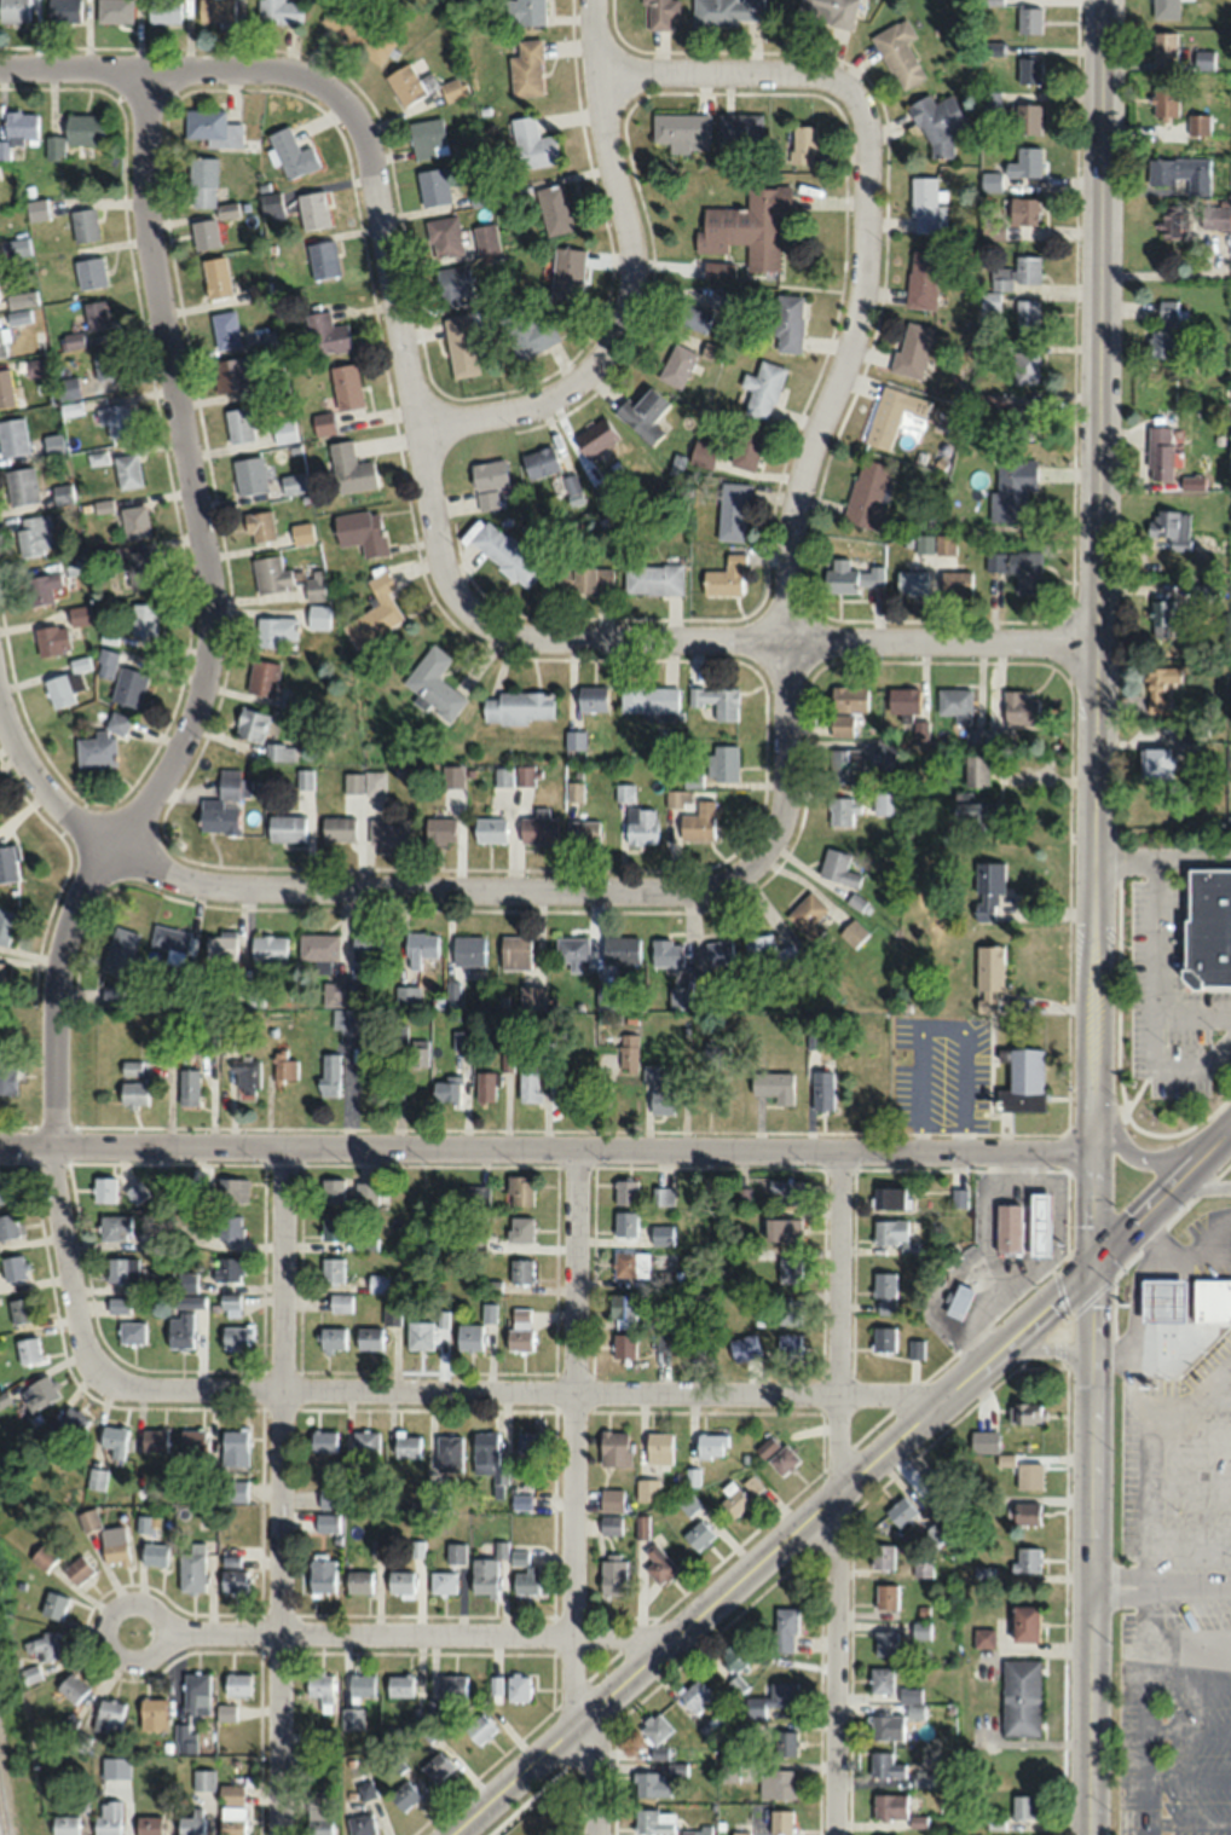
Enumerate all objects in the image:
building: (1164, 8)
building: (13, 10)
building: (112, 10)
building: (63, 11)
building: (163, 11)
building: (214, 11)
building: (278, 11)
building: (524, 12)
building: (727, 12)
building: (658, 13)
building: (827, 13)
building: (1028, 19)
building: (354, 29)
building: (1163, 46)
building: (898, 52)
building: (526, 69)
building: (1029, 70)
road: (161, 80)
road: (745, 82)
building: (420, 85)
building: (1164, 100)
building: (1027, 118)
building: (937, 122)
building: (1198, 125)
building: (17, 128)
building: (212, 128)
building: (739, 129)
building: (680, 131)
building: (74, 133)
building: (427, 137)
building: (531, 143)
building: (803, 144)
building: (291, 154)
building: (1024, 162)
building: (1180, 173)
building: (433, 185)
building: (206, 186)
building: (271, 202)
building: (926, 206)
building: (36, 209)
building: (312, 209)
building: (554, 209)
building: (1023, 210)
building: (1214, 216)
building: (1169, 220)
building: (83, 224)
building: (747, 226)
building: (204, 233)
building: (443, 236)
building: (485, 238)
building: (19, 247)
building: (323, 257)
building: (89, 272)
building: (1016, 272)
building: (567, 273)
building: (216, 276)
road: (628, 279)
building: (921, 279)
building: (452, 284)
building: (261, 290)
building: (718, 296)
building: (21, 305)
building: (97, 314)
building: (695, 316)
building: (1027, 317)
building: (787, 322)
building: (225, 329)
building: (1163, 330)
building: (325, 334)
building: (531, 336)
building: (73, 340)
road: (403, 342)
building: (2, 345)
building: (461, 346)
building: (913, 349)
building: (106, 364)
building: (677, 364)
building: (36, 366)
building: (1025, 366)
building: (233, 372)
building: (346, 386)
building: (68, 388)
building: (762, 388)
building: (6, 389)
building: (643, 415)
building: (1027, 416)
building: (896, 418)
building: (117, 421)
building: (323, 423)
building: (239, 424)
building: (283, 432)
building: (12, 438)
building: (595, 438)
building: (746, 446)
building: (1160, 452)
building: (703, 453)
building: (97, 458)
building: (541, 463)
building: (349, 469)
building: (127, 470)
building: (489, 474)
building: (264, 479)
building: (22, 486)
building: (1012, 488)
building: (63, 493)
building: (867, 493)
building: (487, 500)
building: (733, 510)
road: (796, 511)
building: (135, 521)
building: (260, 527)
building: (1172, 527)
building: (362, 532)
building: (302, 533)
building: (34, 534)
building: (944, 544)
road: (1097, 552)
building: (505, 554)
building: (75, 565)
building: (139, 568)
building: (1018, 568)
building: (270, 574)
building: (726, 577)
building: (849, 577)
building: (584, 578)
building: (652, 578)
building: (912, 583)
building: (317, 584)
building: (955, 584)
building: (41, 587)
building: (1204, 591)
building: (376, 610)
building: (80, 615)
building: (1161, 615)
building: (317, 617)
building: (144, 619)
building: (274, 630)
road: (769, 636)
building: (51, 639)
building: (79, 664)
building: (106, 664)
building: (262, 677)
building: (433, 683)
building: (128, 688)
building: (1160, 688)
building: (58, 691)
building: (591, 697)
building: (648, 699)
building: (848, 699)
building: (903, 700)
building: (715, 702)
building: (955, 702)
building: (293, 704)
building: (519, 707)
building: (1019, 708)
building: (250, 725)
building: (842, 725)
building: (989, 737)
building: (574, 740)
road: (184, 741)
building: (1187, 741)
building: (100, 745)
building: (278, 753)
building: (884, 756)
building: (722, 763)
building: (845, 764)
building: (1158, 764)
building: (978, 769)
building: (513, 776)
building: (452, 777)
building: (352, 783)
building: (374, 783)
road: (47, 788)
building: (224, 804)
building: (843, 810)
building: (977, 814)
building: (699, 822)
building: (285, 828)
building: (337, 828)
building: (641, 828)
building: (438, 829)
building: (538, 829)
building: (489, 830)
building: (387, 832)
building: (584, 833)
road: (1163, 857)
building: (7, 864)
building: (838, 868)
building: (988, 890)
road: (416, 895)
building: (808, 916)
building: (5, 925)
building: (1207, 928)
building: (169, 938)
building: (318, 945)
building: (365, 945)
building: (220, 948)
building: (268, 948)
building: (420, 948)
building: (620, 949)
building: (468, 950)
building: (121, 951)
building: (718, 951)
building: (514, 953)
building: (572, 953)
building: (666, 953)
building: (769, 954)
road: (1158, 971)
building: (989, 979)
building: (1, 980)
building: (331, 992)
building: (405, 996)
building: (531, 997)
building: (680, 997)
building: (605, 998)
building: (346, 1025)
building: (460, 1040)
building: (545, 1050)
building: (628, 1052)
building: (418, 1054)
building: (713, 1057)
building: (505, 1061)
building: (131, 1066)
building: (285, 1070)
building: (7, 1071)
building: (245, 1072)
building: (329, 1075)
building: (1025, 1079)
building: (527, 1086)
building: (187, 1087)
building: (485, 1087)
building: (771, 1087)
building: (445, 1090)
building: (821, 1090)
building: (133, 1093)
building: (658, 1093)
road: (544, 1147)
road: (1198, 1157)
road: (1151, 1158)
road: (1091, 1183)
building: (5, 1188)
building: (519, 1188)
road: (1198, 1188)
building: (103, 1189)
building: (232, 1189)
building: (331, 1191)
building: (624, 1191)
building: (788, 1191)
building: (365, 1192)
building: (135, 1193)
building: (202, 1193)
building: (661, 1194)
building: (475, 1196)
building: (889, 1196)
building: (958, 1197)
building: (624, 1222)
building: (1039, 1222)
building: (7, 1225)
building: (229, 1226)
building: (331, 1226)
building: (1007, 1226)
building: (114, 1227)
road: (1128, 1227)
building: (519, 1228)
building: (782, 1229)
building: (661, 1234)
building: (892, 1234)
building: (473, 1239)
building: (368, 1243)
road: (1200, 1248)
building: (762, 1254)
building: (12, 1266)
building: (632, 1266)
building: (226, 1268)
building: (331, 1268)
building: (121, 1269)
building: (521, 1269)
building: (788, 1269)
building: (185, 1281)
building: (377, 1283)
building: (884, 1292)
building: (1161, 1298)
building: (1212, 1298)
building: (958, 1299)
building: (340, 1302)
building: (117, 1304)
building: (229, 1304)
building: (18, 1309)
building: (487, 1310)
building: (623, 1310)
building: (788, 1310)
road: (1038, 1312)
building: (391, 1313)
road: (1091, 1318)
building: (519, 1327)
building: (179, 1330)
building: (131, 1331)
building: (418, 1333)
building: (468, 1336)
building: (369, 1337)
building: (883, 1337)
building: (236, 1338)
building: (331, 1338)
building: (663, 1338)
building: (623, 1344)
building: (788, 1344)
building: (742, 1347)
building: (914, 1347)
building: (27, 1349)
road: (1041, 1349)
road: (1112, 1353)
road: (513, 1390)
road: (1218, 1391)
building: (39, 1393)
road: (1195, 1397)
building: (1023, 1412)
building: (70, 1424)
road: (1154, 1432)
road: (571, 1434)
building: (114, 1439)
building: (152, 1439)
building: (191, 1440)
building: (323, 1440)
building: (365, 1440)
building: (983, 1440)
road: (1192, 1441)
building: (528, 1442)
building: (711, 1443)
building: (406, 1446)
building: (659, 1446)
building: (614, 1447)
building: (233, 1448)
building: (449, 1452)
building: (775, 1453)
building: (1005, 1459)
building: (489, 1460)
building: (1029, 1474)
building: (692, 1475)
building: (96, 1477)
road: (1090, 1480)
building: (752, 1483)
road: (1191, 1487)
building: (648, 1488)
building: (232, 1489)
road: (279, 1489)
road: (838, 1490)
building: (329, 1497)
building: (611, 1498)
building: (733, 1500)
building: (688, 1503)
building: (940, 1509)
building: (901, 1511)
building: (1025, 1511)
building: (88, 1518)
building: (326, 1521)
building: (609, 1523)
building: (698, 1533)
road: (1191, 1534)
building: (114, 1544)
building: (154, 1552)
building: (42, 1555)
building: (882, 1555)
building: (1027, 1558)
building: (658, 1563)
building: (191, 1564)
building: (921, 1567)
building: (77, 1568)
building: (320, 1573)
building: (525, 1574)
building: (484, 1575)
building: (613, 1575)
building: (233, 1578)
building: (358, 1580)
building: (400, 1581)
building: (443, 1581)
road: (1160, 1586)
building: (885, 1596)
road: (717, 1597)
parking lot: (1177, 1598)
road: (140, 1602)
building: (53, 1604)
power tower: (13, 1616)
building: (1024, 1622)
building: (784, 1629)
building: (920, 1629)
road: (418, 1632)
building: (983, 1637)
building: (885, 1643)
building: (45, 1645)
building: (734, 1654)
building: (30, 1674)
building: (880, 1679)
building: (236, 1684)
building: (453, 1684)
building: (399, 1685)
building: (518, 1686)
building: (71, 1688)
building: (496, 1688)
building: (320, 1689)
building: (196, 1694)
building: (694, 1695)
building: (909, 1695)
building: (1021, 1696)
building: (356, 1697)
building: (771, 1700)
road: (1149, 1706)
building: (433, 1709)
building: (914, 1710)
road: (1087, 1710)
building: (225, 1712)
building: (152, 1713)
building: (109, 1715)
building: (68, 1725)
building: (885, 1726)
building: (479, 1727)
building: (655, 1727)
building: (712, 1727)
building: (744, 1732)
building: (324, 1735)
building: (184, 1737)
building: (80, 1741)
building: (785, 1742)
power tower: (44, 1765)
building: (885, 1765)
building: (435, 1766)
building: (676, 1769)
road: (595, 1770)
building: (729, 1772)
building: (202, 1778)
building: (123, 1781)
building: (776, 1783)
building: (651, 1784)
building: (365, 1789)
building: (404, 1795)
building: (79, 1802)
building: (889, 1805)
building: (1022, 1806)
building: (231, 1808)
building: (319, 1813)
building: (106, 1817)
building: (770, 1819)
building: (653, 1820)
building: (191, 1823)
building: (63, 1824)
building: (148, 1824)
building: (360, 1824)
railway: (1, 1825)
building: (695, 1830)
building: (530, 1834)

